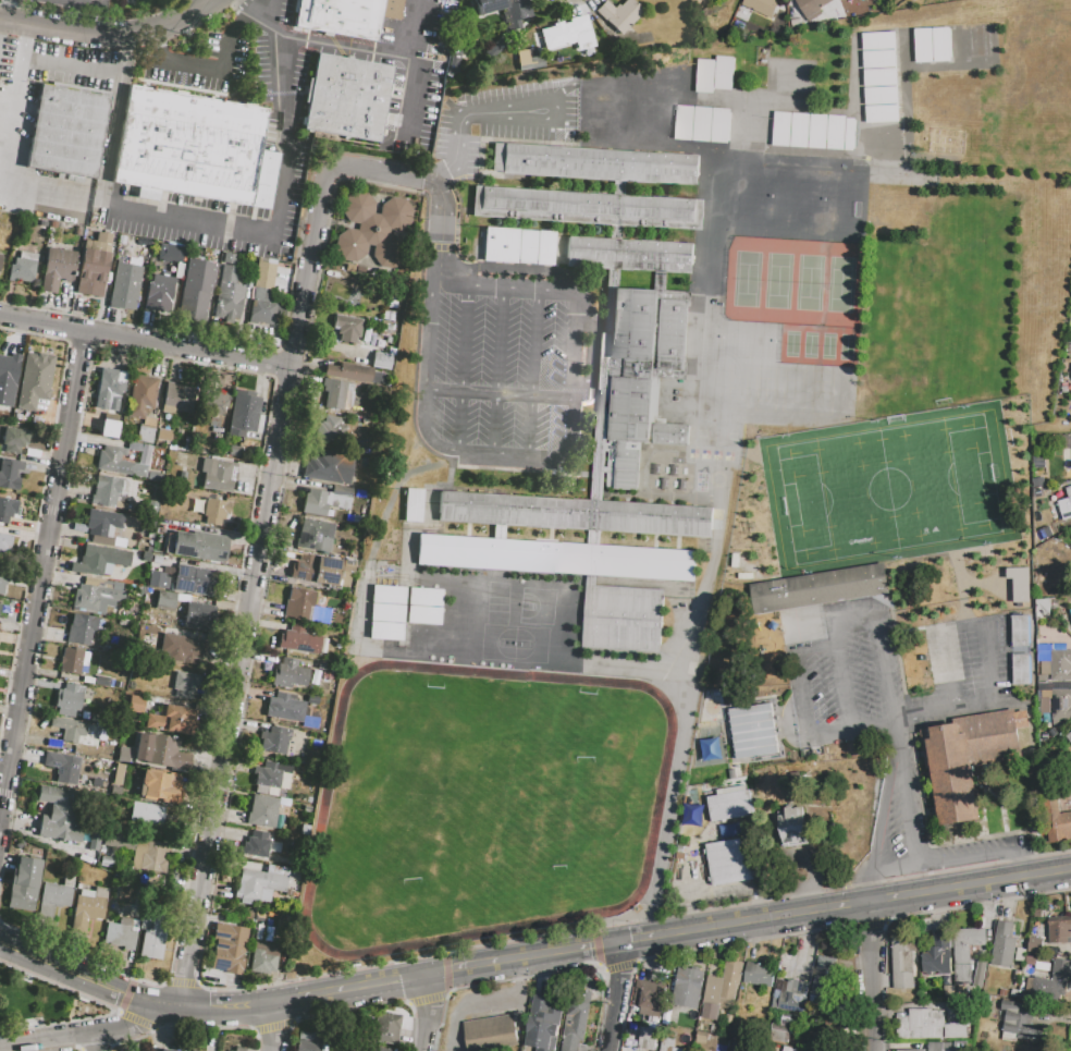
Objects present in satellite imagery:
building: (762, 7)
parking lot: (274, 8)
building: (514, 8)
building: (812, 8)
road: (266, 10)
road: (7, 11)
road: (81, 14)
building: (618, 14)
building: (345, 15)
road: (236, 22)
parking lot: (428, 24)
building: (564, 32)
road: (108, 33)
road: (153, 44)
road: (323, 44)
building: (933, 46)
parking lot: (5, 53)
building: (524, 62)
road: (72, 64)
parking lot: (275, 64)
parking lot: (202, 65)
road: (206, 69)
building: (451, 69)
building: (715, 75)
building: (881, 78)
parking lot: (399, 97)
building: (346, 98)
road: (15, 101)
road: (414, 102)
road: (487, 109)
road: (111, 118)
building: (703, 125)
building: (66, 131)
building: (814, 131)
parking lot: (14, 132)
road: (287, 132)
building: (158, 139)
building: (233, 156)
building: (594, 163)
road: (442, 171)
road: (49, 188)
building: (587, 207)
road: (185, 217)
parking lot: (226, 219)
building: (373, 229)
road: (442, 232)
building: (518, 245)
building: (170, 253)
building: (0, 255)
building: (629, 255)
building: (93, 266)
building: (22, 268)
building: (57, 268)
building: (178, 269)
building: (124, 285)
building: (197, 286)
building: (161, 288)
park: (799, 289)
building: (227, 290)
building: (262, 294)
parking lot: (506, 310)
building: (346, 328)
road: (146, 343)
road: (279, 344)
building: (381, 360)
road: (461, 367)
road: (498, 369)
building: (348, 371)
road: (540, 371)
building: (8, 378)
building: (35, 379)
building: (636, 382)
building: (109, 387)
building: (333, 392)
road: (498, 392)
building: (140, 395)
building: (177, 396)
building: (214, 402)
building: (243, 413)
road: (268, 414)
building: (109, 425)
building: (330, 429)
building: (146, 430)
building: (14, 439)
building: (134, 447)
road: (570, 448)
building: (172, 453)
building: (118, 462)
building: (328, 466)
building: (10, 473)
building: (218, 474)
building: (153, 475)
building: (341, 490)
building: (110, 492)
road: (37, 500)
building: (315, 502)
building: (413, 504)
building: (152, 505)
building: (1066, 506)
building: (7, 509)
building: (177, 509)
building: (214, 511)
building: (187, 512)
building: (102, 526)
road: (261, 535)
building: (315, 535)
building: (686, 536)
building: (4, 542)
road: (270, 542)
building: (199, 546)
building: (1070, 547)
building: (163, 558)
building: (99, 559)
building: (320, 571)
road: (42, 578)
building: (2, 579)
building: (197, 579)
building: (1019, 584)
building: (817, 589)
building: (93, 596)
building: (461, 598)
building: (165, 599)
building: (298, 603)
building: (423, 607)
building: (386, 612)
building: (1070, 612)
building: (198, 616)
building: (623, 619)
building: (81, 628)
road: (964, 628)
building: (1020, 631)
building: (294, 638)
road: (879, 645)
building: (190, 649)
building: (71, 660)
road: (993, 664)
building: (1061, 665)
building: (1021, 670)
road: (840, 671)
road: (948, 672)
building: (288, 673)
road: (799, 675)
building: (184, 684)
building: (67, 699)
building: (135, 704)
building: (1061, 704)
building: (284, 707)
road: (946, 714)
parking lot: (903, 717)
building: (171, 719)
building: (69, 729)
road: (851, 731)
building: (754, 732)
building: (1069, 737)
building: (274, 740)
building: (159, 750)
building: (123, 756)
building: (62, 767)
building: (960, 768)
building: (118, 773)
building: (267, 774)
building: (159, 785)
building: (114, 790)
building: (112, 802)
building: (730, 804)
park: (483, 806)
building: (261, 810)
building: (147, 812)
road: (666, 812)
building: (58, 814)
building: (1056, 821)
building: (793, 824)
building: (95, 836)
building: (118, 841)
building: (256, 843)
road: (914, 846)
road: (887, 851)
road: (1052, 854)
building: (149, 855)
road: (1024, 858)
building: (731, 861)
road: (1022, 864)
road: (895, 869)
road: (1048, 872)
building: (261, 882)
building: (23, 883)
road: (838, 889)
building: (52, 899)
building: (87, 907)
road: (824, 909)
road: (649, 919)
building: (1060, 930)
building: (121, 933)
building: (153, 940)
building: (1004, 944)
building: (1036, 945)
building: (229, 946)
road: (566, 953)
building: (967, 953)
building: (938, 955)
building: (263, 957)
road: (65, 963)
building: (903, 964)
road: (471, 968)
building: (759, 975)
road: (873, 976)
road: (63, 979)
building: (822, 980)
building: (1050, 983)
road: (356, 989)
building: (688, 989)
building: (722, 990)
road: (71, 991)
building: (795, 997)
road: (615, 998)
road: (152, 1001)
building: (648, 1002)
road: (227, 1006)
road: (428, 1013)
building: (576, 1019)
building: (1017, 1022)
building: (543, 1024)
building: (932, 1024)
road: (274, 1027)
building: (386, 1028)
road: (90, 1034)
building: (492, 1035)
building: (780, 1035)
building: (647, 1038)
road: (99, 1041)
building: (309, 1042)
building: (667, 1044)
building: (374, 1048)
building: (242, 1049)
building: (165, 1050)
building: (194, 1050)
building: (912, 1050)

